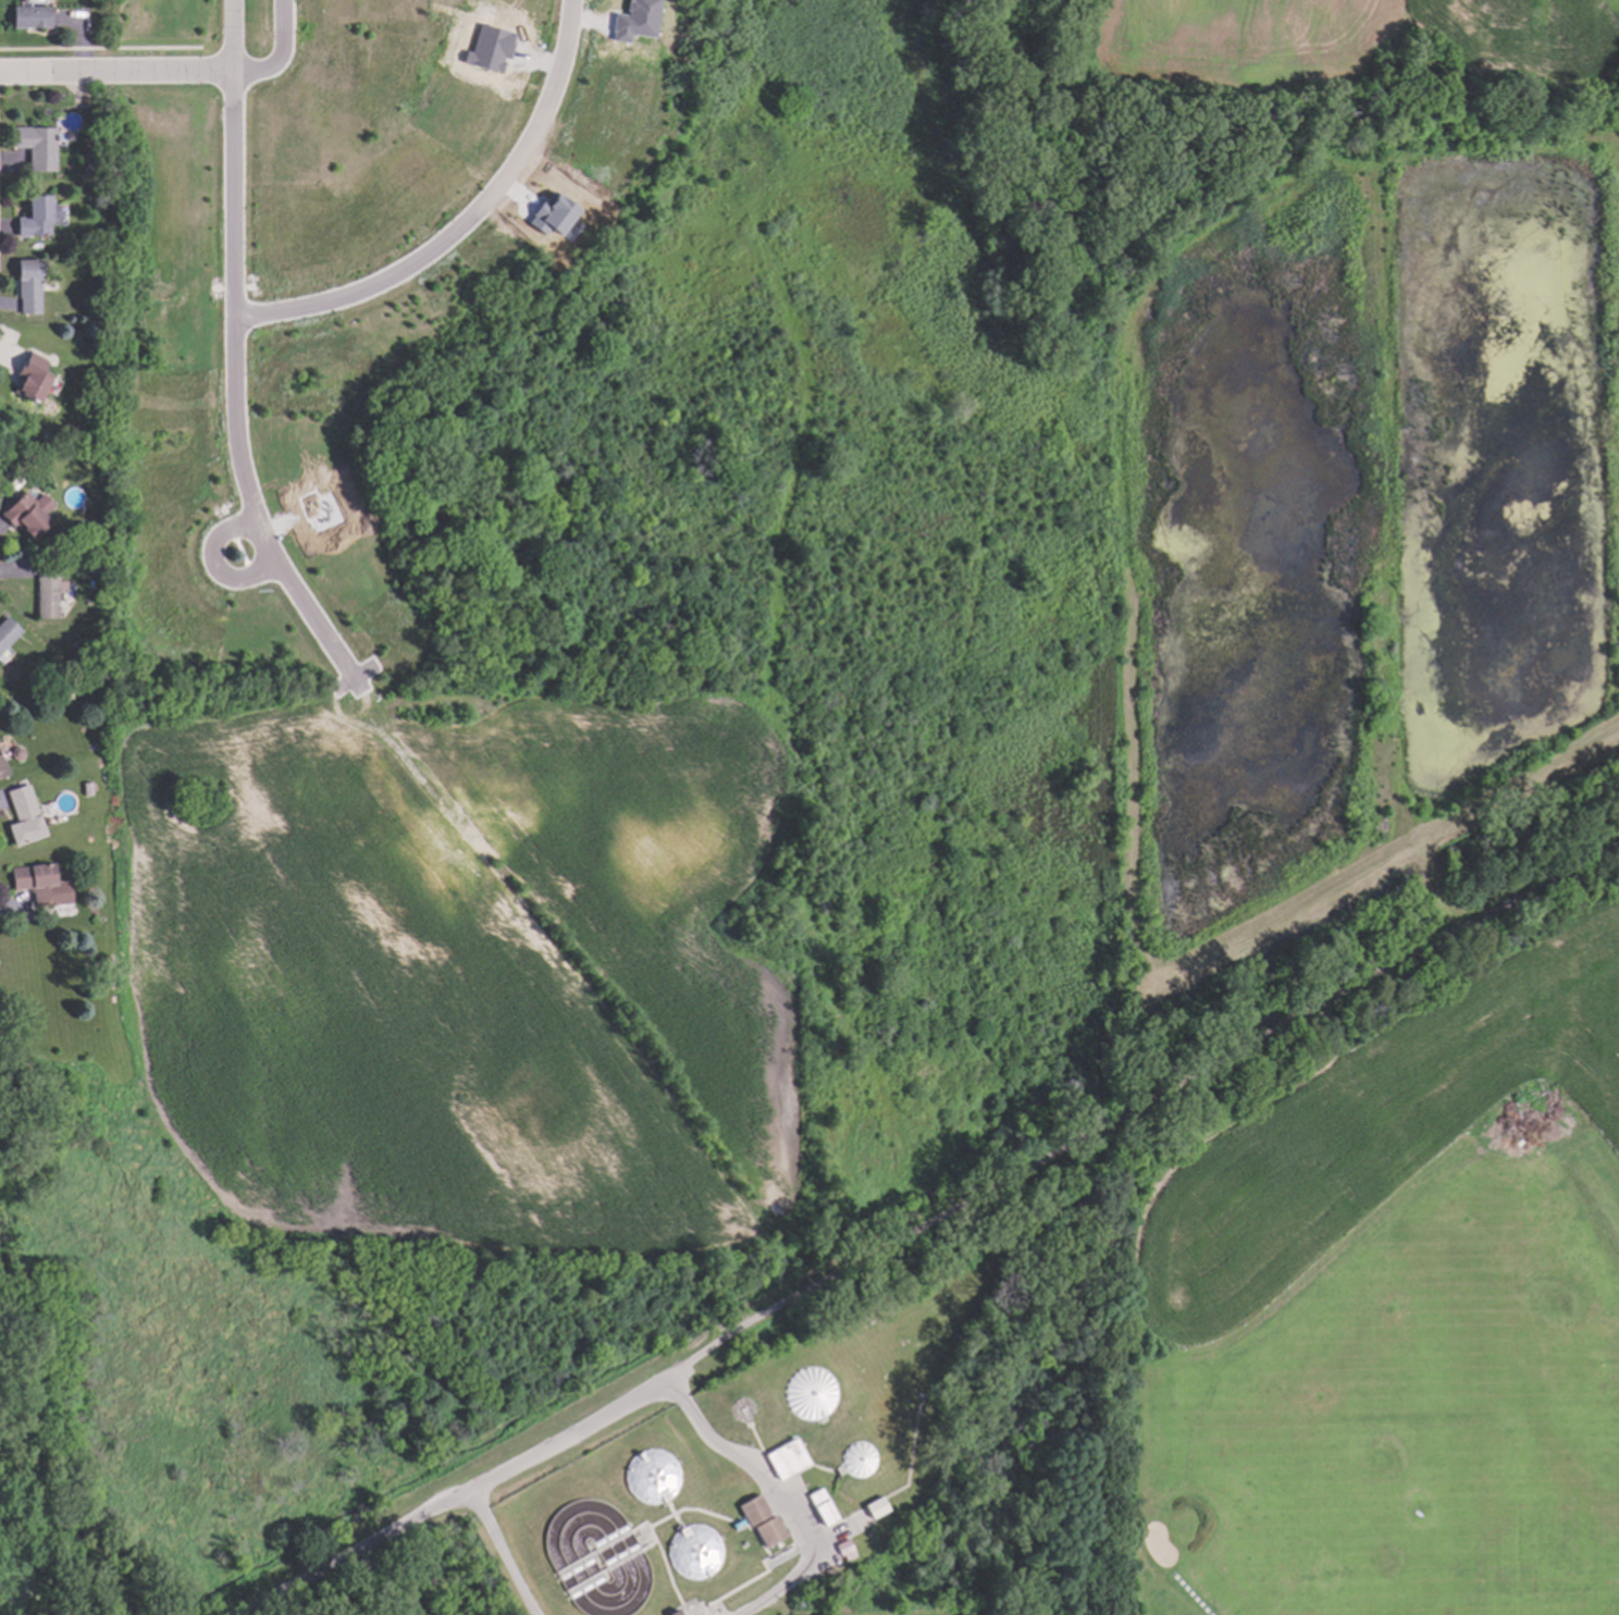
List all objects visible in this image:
building: (28, 15)
building: (637, 21)
building: (491, 49)
road: (276, 54)
road: (115, 72)
building: (34, 145)
building: (32, 217)
building: (553, 217)
road: (464, 223)
building: (26, 285)
road: (233, 363)
building: (29, 377)
building: (12, 480)
building: (26, 513)
building: (91, 553)
road: (220, 563)
building: (45, 587)
building: (7, 630)
building: (64, 694)
building: (14, 752)
building: (0, 762)
building: (2, 767)
building: (84, 785)
building: (22, 814)
building: (34, 880)
road: (1140, 1111)
building: (807, 1393)
park: (1405, 1411)
building: (786, 1458)
building: (856, 1458)
building: (650, 1474)
road: (450, 1495)
road: (778, 1497)
building: (823, 1505)
building: (874, 1505)
building: (753, 1508)
building: (737, 1524)
building: (769, 1529)
building: (844, 1549)
road: (502, 1550)
building: (692, 1551)
building: (671, 1612)

